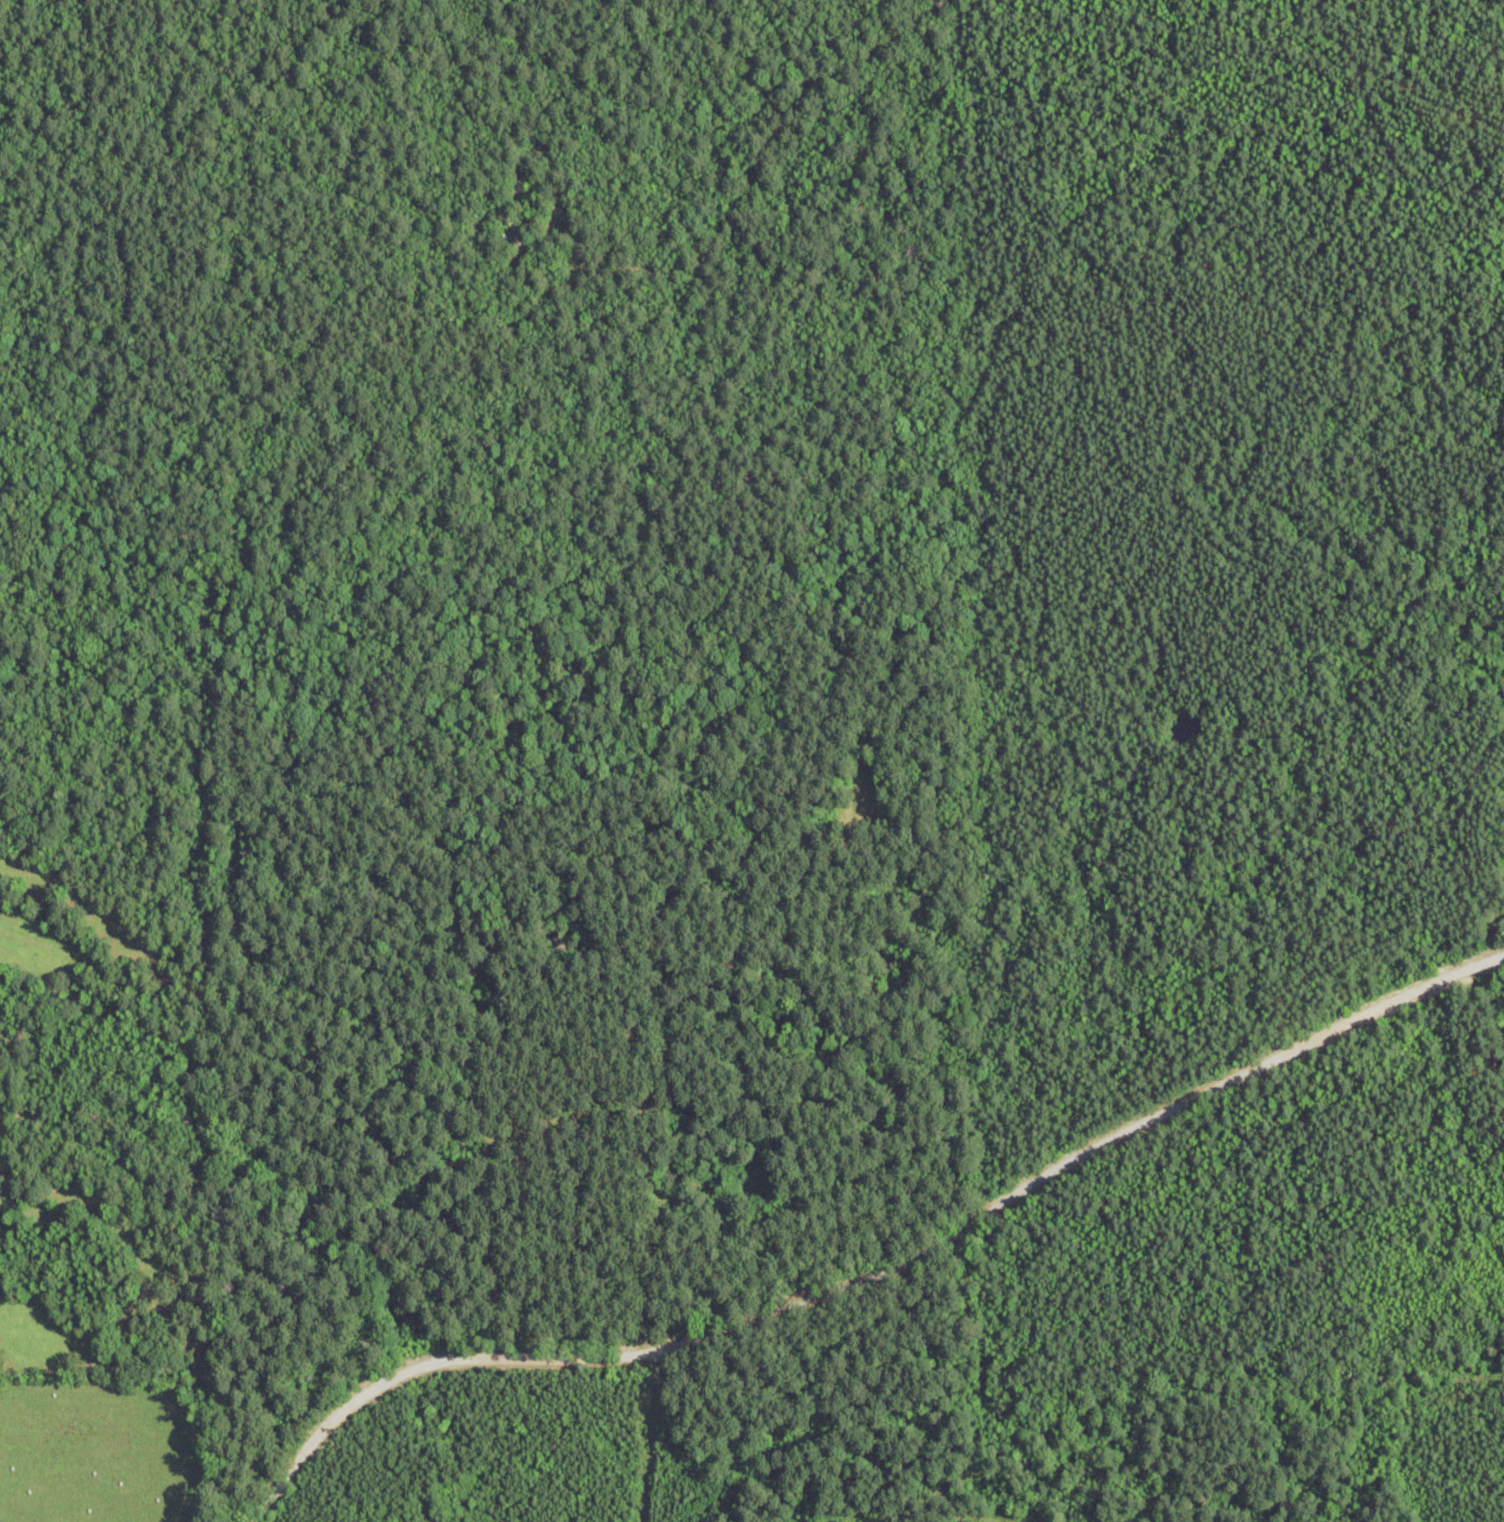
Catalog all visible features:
road: (877, 1275)

